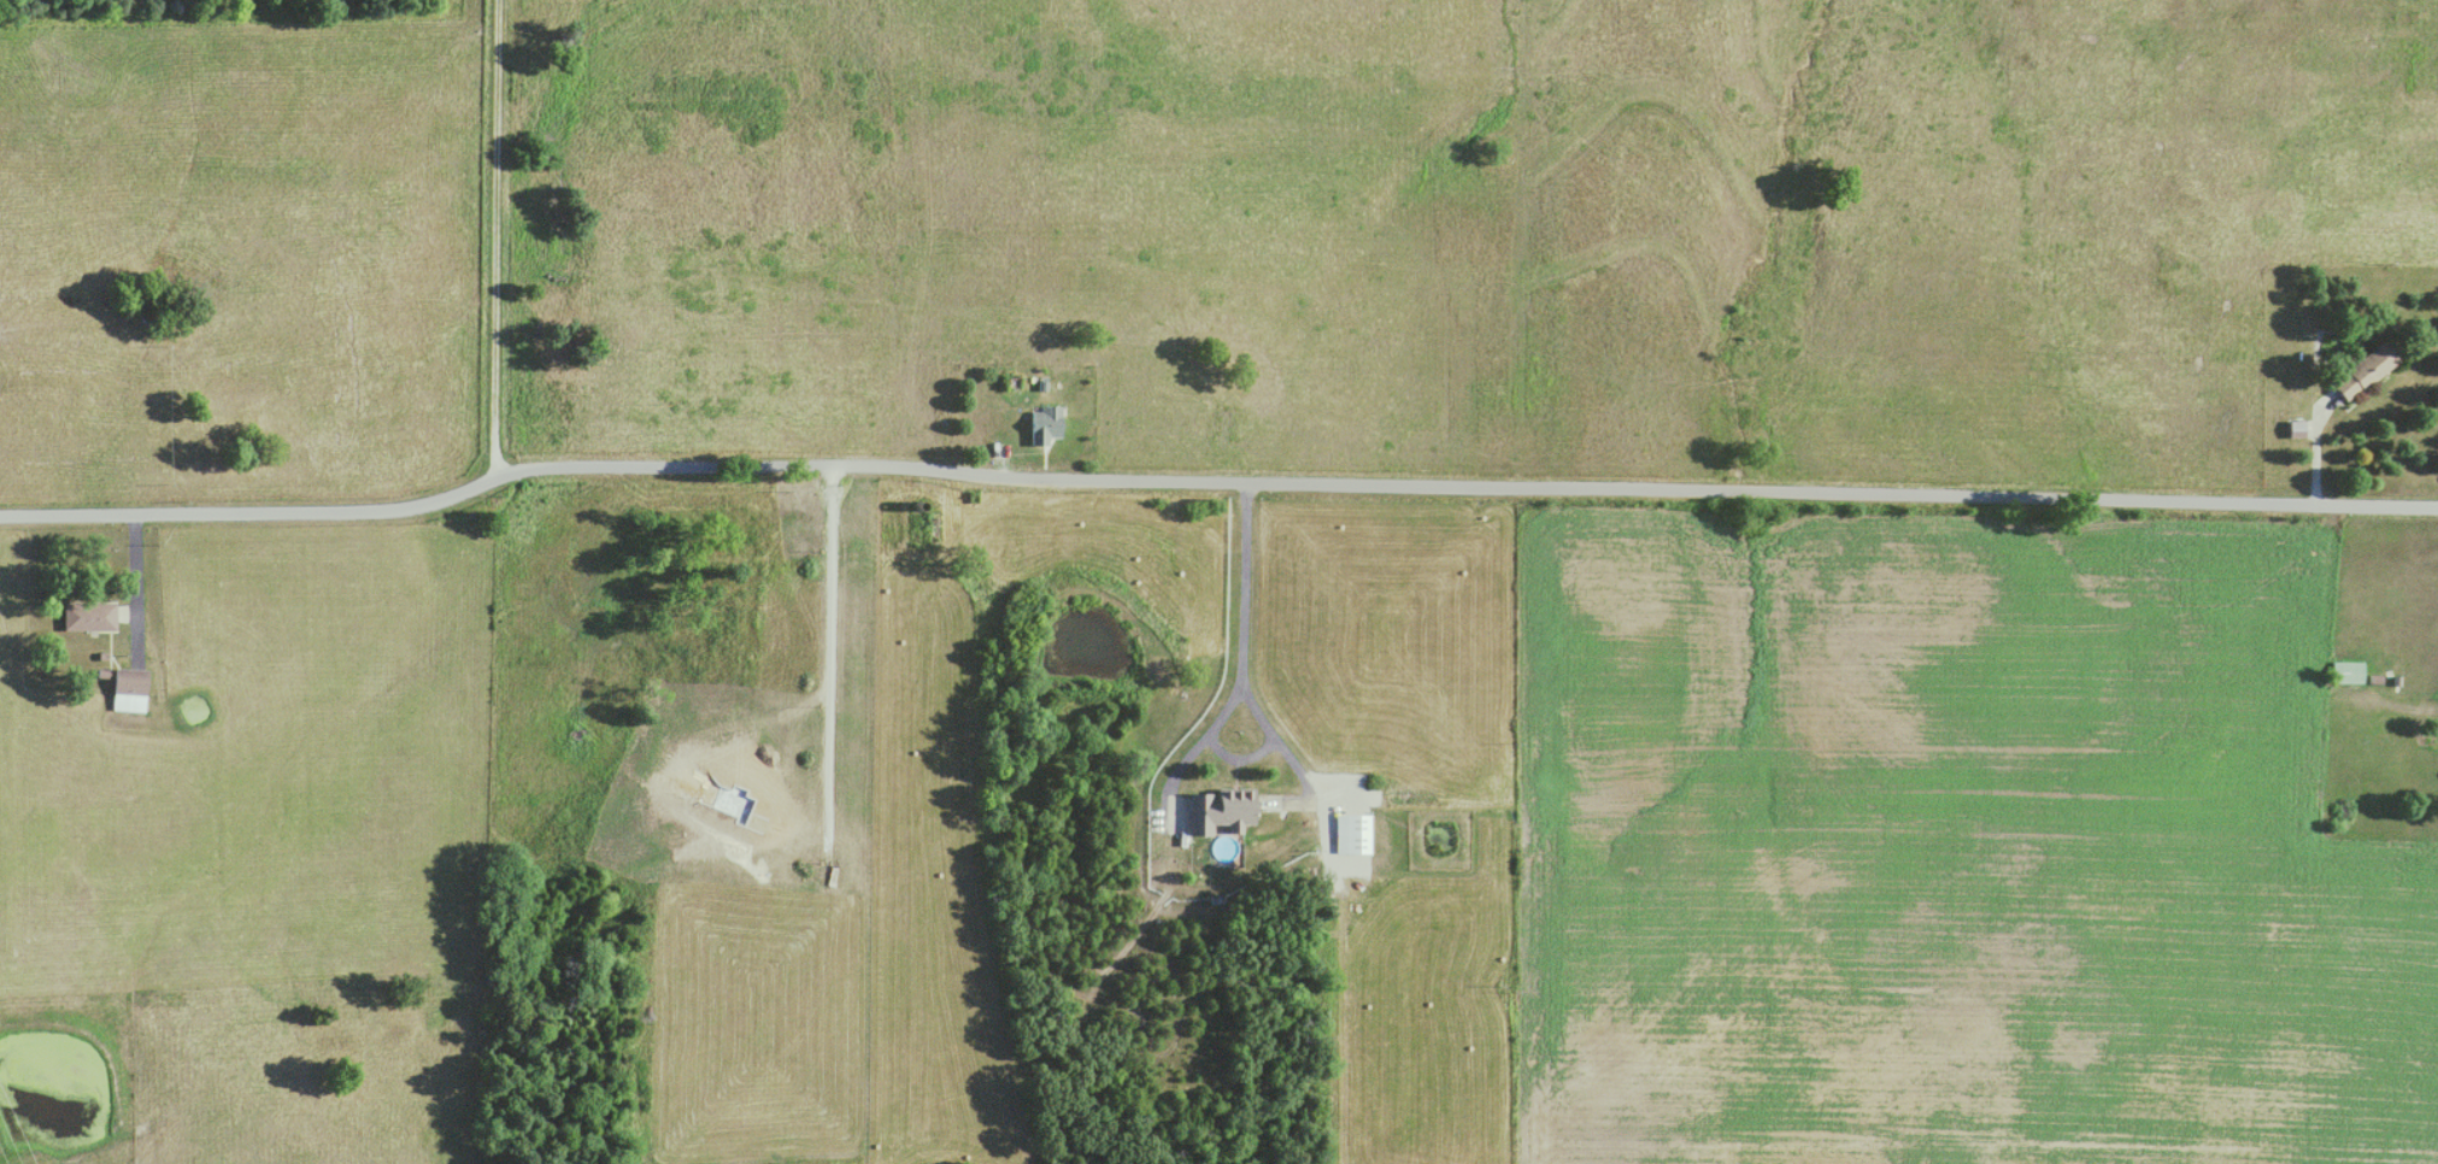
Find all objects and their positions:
road: (494, 240)
building: (2360, 372)
building: (1044, 424)
building: (2293, 429)
road: (2315, 447)
road: (1464, 486)
road: (248, 507)
road: (134, 577)
building: (87, 616)
road: (1244, 629)
road: (827, 652)
building: (2345, 672)
building: (129, 689)
road: (2399, 709)
building: (1352, 834)

